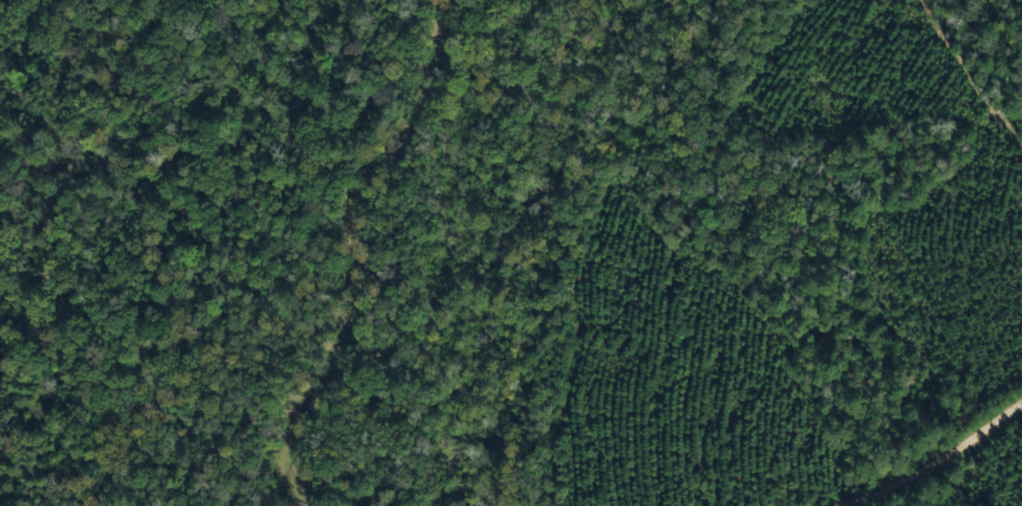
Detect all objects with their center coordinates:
road: (969, 485)

